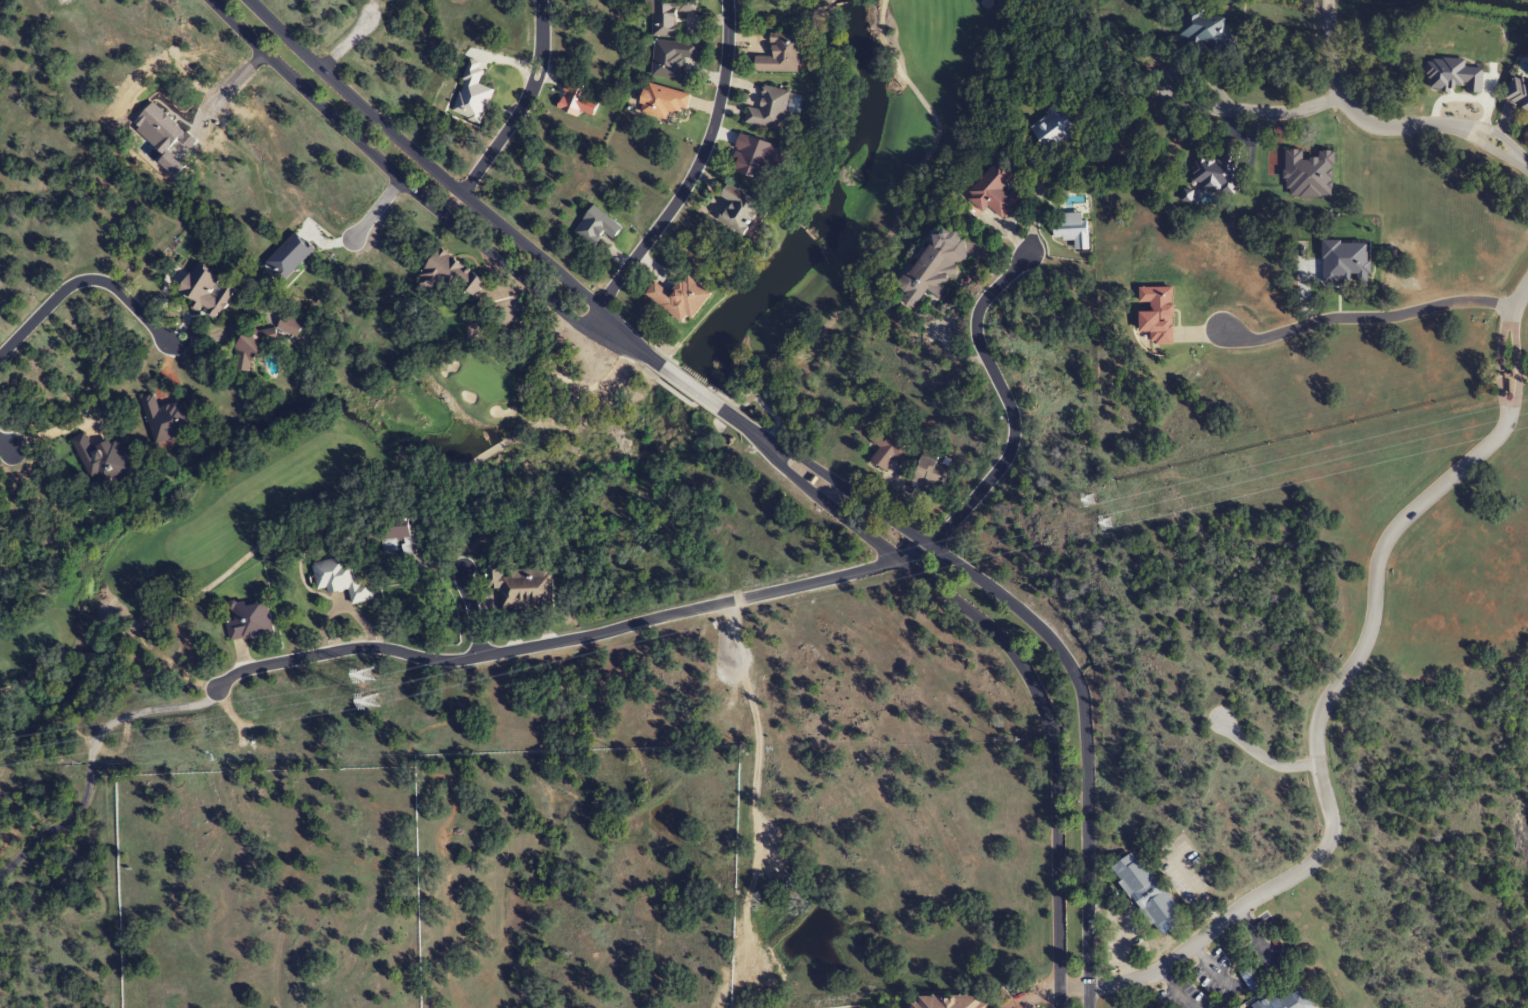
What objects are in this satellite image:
building: (667, 15)
building: (1206, 31)
road: (343, 45)
building: (783, 54)
building: (670, 58)
road: (234, 82)
building: (1518, 94)
building: (572, 97)
building: (662, 101)
building: (769, 109)
road: (1250, 114)
road: (514, 116)
road: (1384, 126)
building: (1053, 129)
building: (751, 155)
road: (697, 167)
road: (448, 187)
building: (994, 189)
road: (423, 198)
building: (739, 209)
road: (375, 214)
building: (596, 226)
building: (1071, 230)
building: (933, 267)
building: (449, 275)
road: (83, 281)
building: (205, 290)
building: (679, 298)
road: (591, 319)
road: (1367, 319)
park: (458, 359)
road: (1507, 364)
road: (695, 388)
road: (691, 393)
building: (165, 420)
road: (7, 446)
building: (889, 451)
building: (101, 461)
building: (930, 474)
power tower: (1090, 498)
power tower: (1104, 524)
building: (391, 535)
building: (342, 579)
building: (525, 588)
road: (743, 598)
road: (470, 610)
building: (250, 622)
road: (1047, 632)
road: (1011, 649)
power tower: (367, 673)
power tower: (365, 705)
road: (1316, 756)
road: (1263, 758)
road: (90, 761)
building: (1148, 894)
road: (1258, 939)
road: (1212, 972)
road: (1250, 977)
road: (1074, 986)
road: (1173, 989)
road: (1037, 992)
building: (1275, 994)
road: (1223, 995)
road: (1015, 999)
building: (949, 1002)

